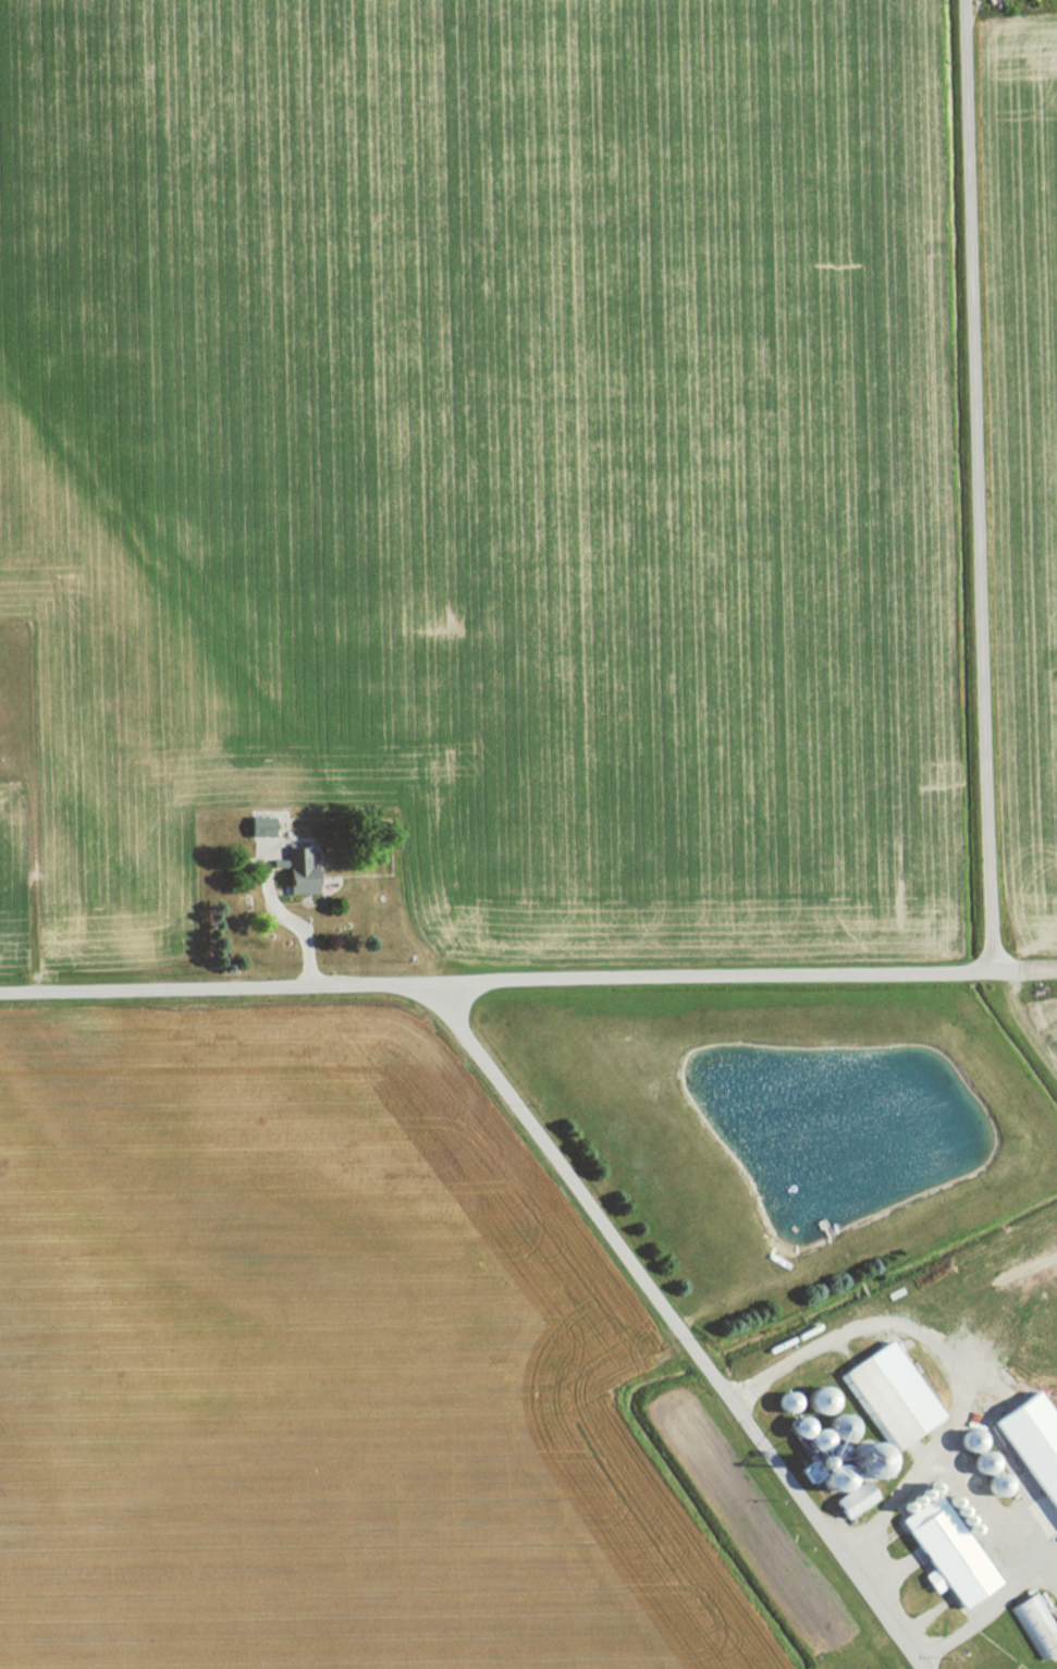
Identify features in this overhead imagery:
crop: (1031, 439)
crop: (484, 453)
road: (980, 487)
park: (15, 701)
building: (256, 826)
building: (295, 872)
road: (29, 885)
road: (528, 982)
crop: (1043, 1036)
road: (678, 1323)
crop: (312, 1377)
building: (887, 1396)
building: (1031, 1446)
building: (832, 1462)
building: (848, 1499)
building: (943, 1553)
building: (1033, 1624)

